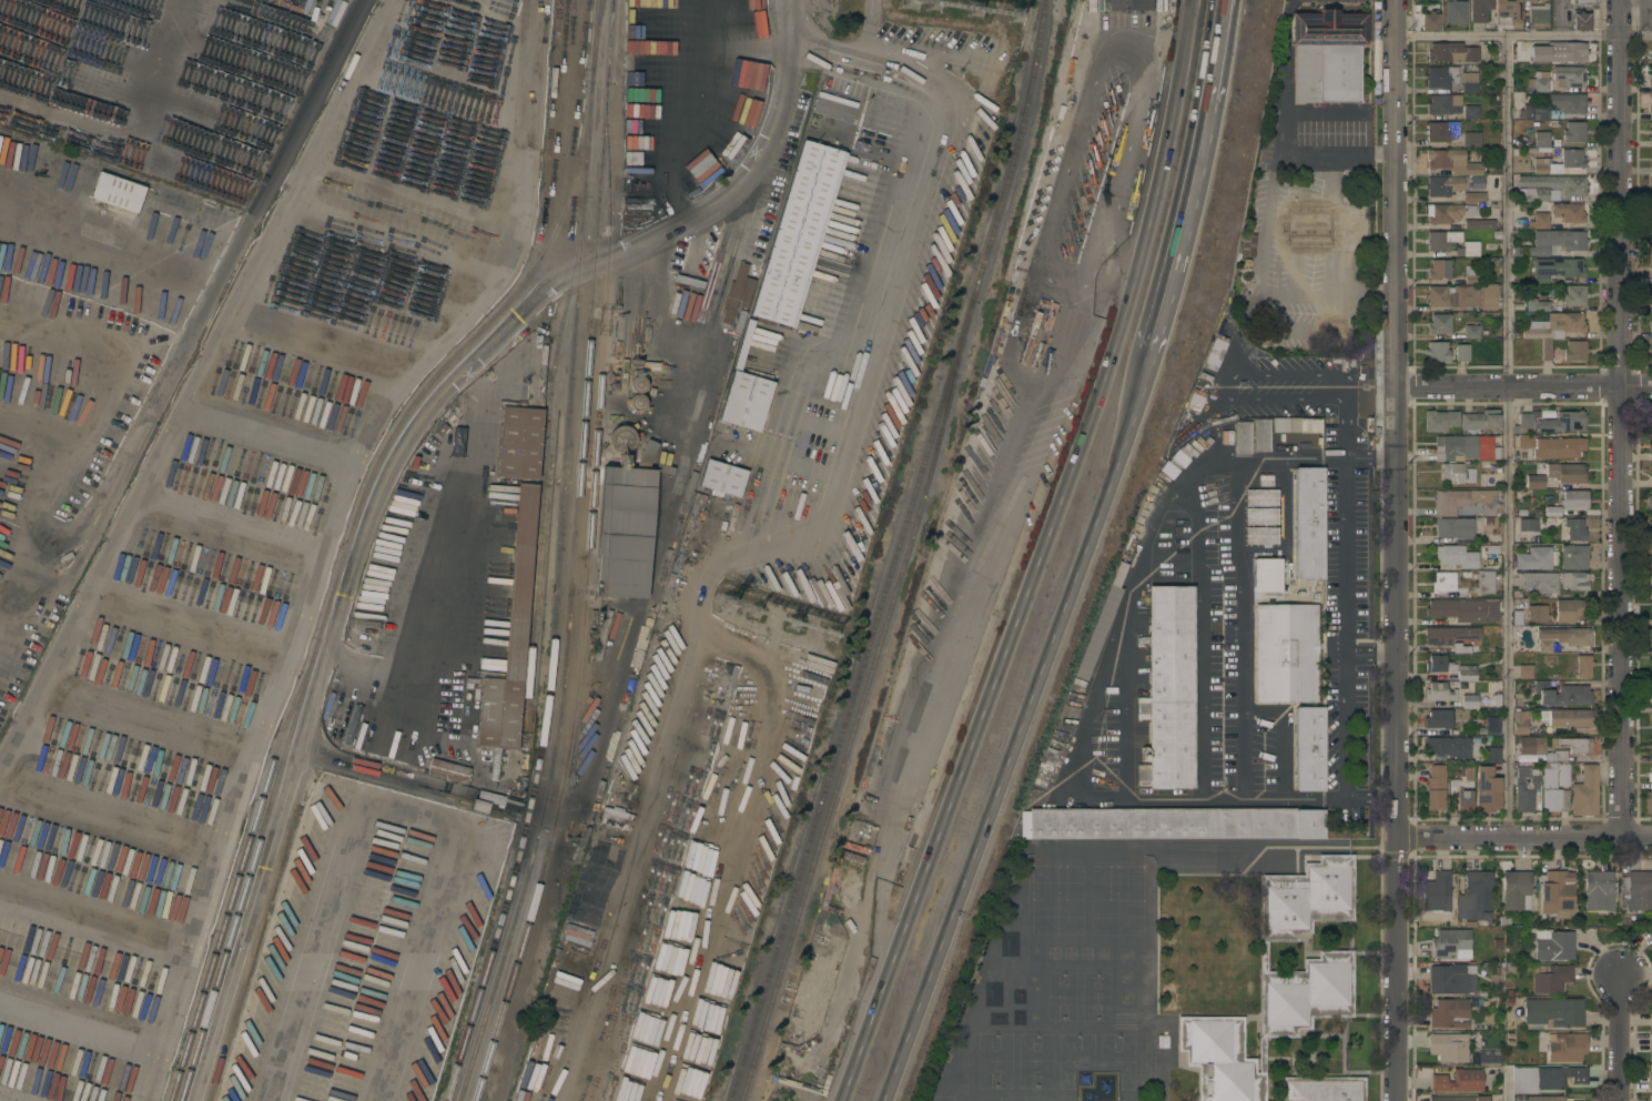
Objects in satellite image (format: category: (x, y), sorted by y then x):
power tower: (966, 2)
building: (1587, 2)
power tower: (996, 4)
building: (1129, 4)
building: (1479, 10)
building: (1455, 12)
building: (1507, 13)
building: (1539, 16)
building: (1651, 16)
building: (738, 19)
building: (1429, 21)
building: (1580, 21)
road: (1285, 22)
railway: (599, 34)
road: (1522, 39)
building: (1524, 44)
building: (1651, 48)
building: (1567, 51)
building: (1451, 52)
building: (1544, 54)
building: (631, 55)
building: (1327, 55)
building: (1651, 57)
building: (1569, 75)
building: (1651, 75)
road: (1284, 77)
building: (1440, 77)
building: (1469, 82)
building: (1541, 85)
building: (1569, 102)
building: (1443, 104)
road: (305, 108)
building: (833, 108)
building: (1651, 109)
building: (1470, 112)
building: (1534, 112)
building: (1555, 114)
road: (122, 127)
building: (1441, 131)
building: (1573, 131)
building: (1651, 131)
building: (1540, 139)
building: (1471, 140)
building: (4, 154)
road: (1366, 154)
building: (1450, 161)
building: (1561, 163)
building: (1651, 164)
road: (1197, 178)
building: (1651, 182)
building: (1445, 185)
building: (1551, 188)
building: (116, 192)
building: (1473, 196)
building: (174, 199)
road: (517, 203)
building: (1448, 212)
building: (1557, 214)
building: (1056, 218)
building: (1651, 219)
road: (898, 223)
building: (1479, 224)
building: (798, 233)
building: (1441, 240)
building: (1557, 241)
building: (1651, 241)
road: (108, 246)
building: (1467, 250)
building: (1439, 269)
building: (1557, 269)
building: (1651, 273)
building: (736, 293)
road: (1368, 294)
building: (1573, 295)
building: (1462, 296)
road: (1306, 297)
building: (1651, 299)
building: (1536, 304)
building: (739, 320)
building: (1439, 323)
building: (1551, 330)
building: (1471, 332)
building: (743, 345)
building: (1651, 350)
building: (1574, 351)
building: (1437, 352)
building: (1462, 353)
building: (1036, 357)
building: (1354, 357)
building: (634, 366)
road: (166, 370)
road: (1347, 381)
building: (637, 384)
building: (473, 385)
road: (1223, 386)
road: (1371, 390)
road: (1522, 390)
road: (695, 391)
road: (1347, 393)
building: (746, 401)
building: (636, 402)
road: (1621, 415)
building: (1439, 421)
building: (1650, 421)
building: (1478, 422)
building: (1563, 423)
building: (1522, 424)
building: (1295, 425)
road: (1344, 425)
building: (1259, 435)
road: (1509, 435)
building: (1240, 437)
building: (518, 438)
building: (619, 440)
building: (1524, 441)
building: (1650, 446)
building: (1558, 447)
building: (1455, 448)
building: (1484, 448)
building: (1496, 454)
railway: (546, 459)
building: (1483, 464)
road: (388, 471)
building: (1452, 473)
building: (1571, 474)
building: (1469, 476)
building: (722, 477)
building: (1481, 481)
building: (1534, 482)
building: (1481, 496)
building: (1260, 497)
building: (1573, 499)
building: (1449, 502)
building: (1649, 503)
building: (1488, 509)
building: (1552, 511)
building: (1261, 516)
building: (1308, 523)
building: (1526, 525)
building: (625, 527)
building: (1453, 528)
building: (1574, 529)
building: (1648, 532)
building: (1260, 536)
road: (448, 550)
road: (1393, 550)
railway: (892, 552)
road: (1342, 553)
building: (1489, 553)
railway: (560, 556)
railway: (575, 556)
road: (1037, 556)
building: (1573, 556)
building: (1651, 556)
building: (1453, 557)
building: (1533, 558)
railway: (343, 566)
building: (1259, 578)
building: (1277, 578)
building: (1573, 580)
building: (1484, 582)
building: (1538, 582)
building: (1447, 586)
railway: (586, 598)
power tower: (728, 605)
power tower: (760, 606)
power tower: (793, 608)
building: (1462, 609)
building: (1570, 612)
building: (1537, 614)
building: (1517, 618)
power tower: (822, 620)
building: (1101, 623)
road: (1240, 625)
road: (1200, 634)
building: (1449, 634)
building: (510, 636)
building: (1562, 637)
building: (1285, 653)
road: (1368, 655)
building: (1436, 663)
building: (1583, 667)
building: (1524, 671)
building: (1466, 673)
road: (1094, 681)
building: (1169, 688)
building: (1439, 690)
building: (1561, 694)
building: (1649, 694)
railway: (858, 701)
building: (1469, 701)
building: (1565, 717)
building: (1438, 719)
building: (1651, 719)
building: (1519, 724)
building: (1491, 726)
road: (1020, 727)
road: (1342, 727)
road: (1279, 736)
building: (1530, 745)
building: (1572, 745)
building: (1448, 747)
building: (1651, 747)
building: (1309, 749)
building: (1492, 754)
building: (1555, 756)
road: (373, 768)
building: (448, 771)
building: (1562, 775)
building: (1649, 776)
building: (1461, 780)
building: (1435, 788)
building: (1487, 790)
building: (1526, 790)
building: (1552, 791)
building: (1584, 792)
building: (489, 797)
building: (1463, 800)
building: (1648, 802)
building: (479, 806)
building: (1173, 824)
road: (1522, 832)
railway: (241, 869)
railway: (275, 873)
building: (1516, 890)
building: (1599, 890)
building: (1635, 891)
building: (1436, 893)
building: (1557, 893)
building: (1474, 895)
building: (1450, 943)
building: (1552, 943)
building: (1494, 976)
building: (1550, 978)
building: (1450, 980)
building: (1278, 982)
building: (1553, 1012)
building: (1449, 1013)
building: (1651, 1017)
road: (1619, 1039)
building: (1565, 1047)
building: (1447, 1048)
building: (1650, 1048)
building: (1490, 1058)
building: (555, 1059)
building: (1544, 1078)
building: (1458, 1081)
building: (1650, 1081)
road: (1504, 1084)
building: (1322, 1088)
building: (1651, 1098)
building: (1458, 1099)
building: (1547, 1099)

